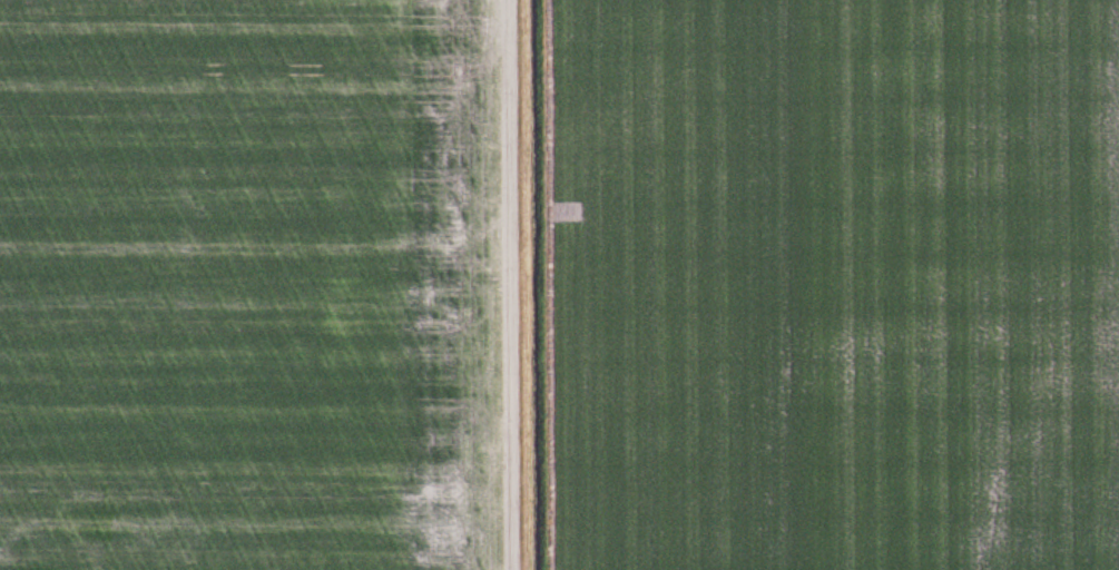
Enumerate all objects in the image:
crop: (248, 284)
crop: (832, 284)
road: (511, 285)

